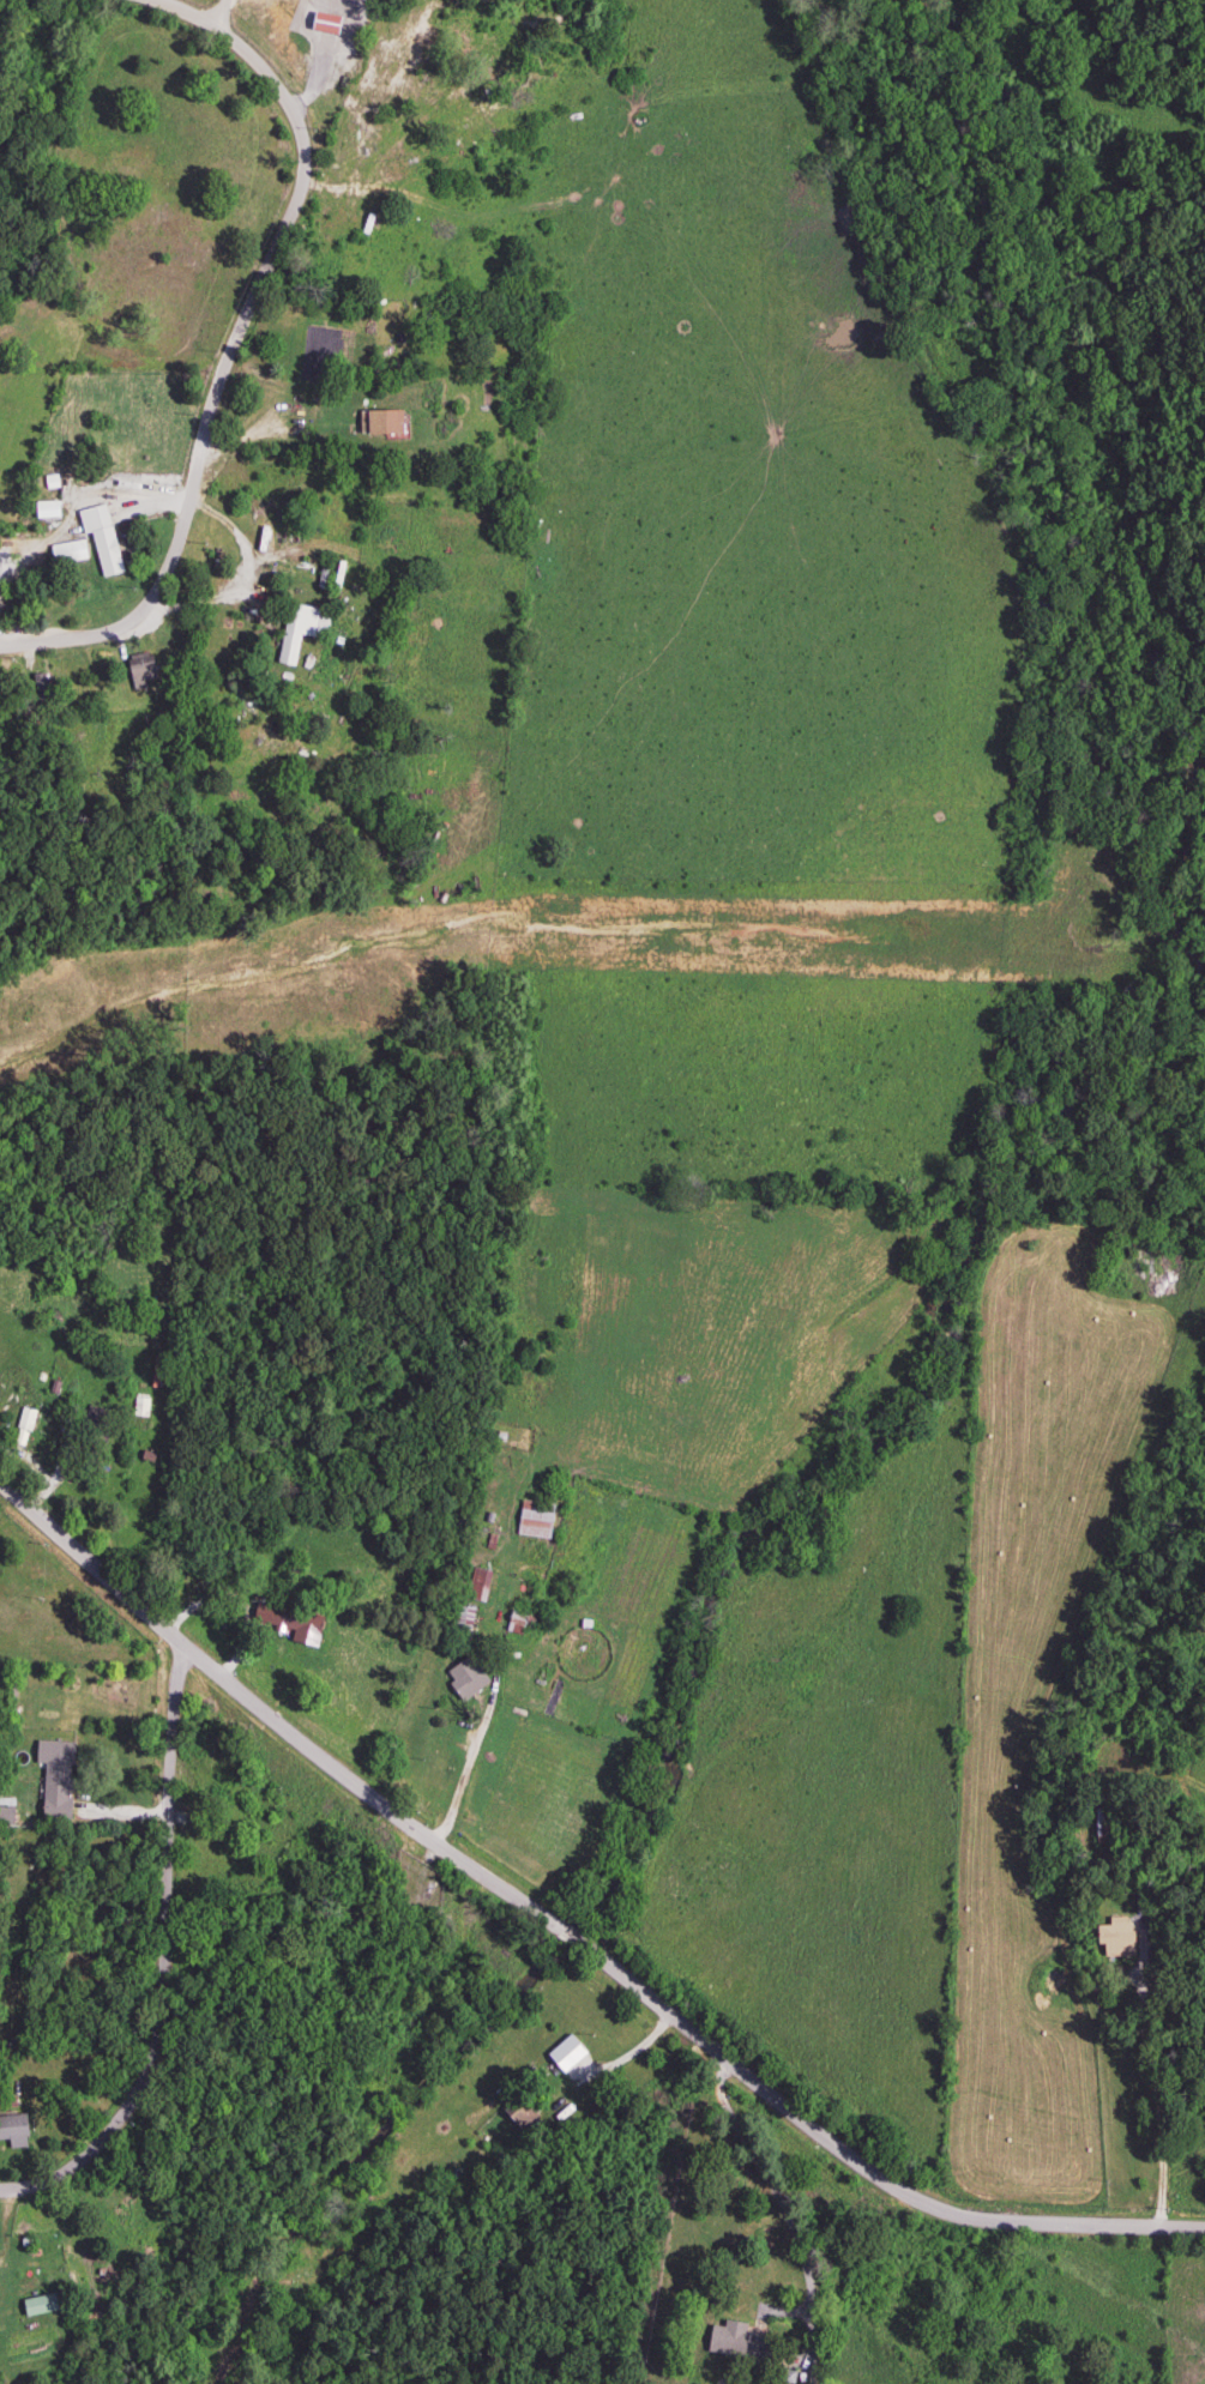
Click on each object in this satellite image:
building: (321, 23)
road: (224, 344)
building: (380, 423)
road: (245, 439)
building: (44, 511)
building: (98, 539)
building: (66, 553)
road: (242, 573)
building: (297, 630)
building: (138, 672)
building: (139, 1407)
building: (25, 1420)
building: (531, 1520)
building: (475, 1586)
building: (458, 1619)
building: (288, 1622)
building: (517, 1624)
building: (462, 1678)
road: (478, 1739)
building: (53, 1793)
building: (228, 1803)
building: (1102, 1823)
road: (168, 1923)
road: (564, 1936)
building: (1114, 1938)
road: (83, 1951)
road: (631, 2056)
road: (1163, 2098)
building: (522, 2117)
building: (12, 2132)
road: (38, 2186)
building: (35, 2306)
building: (733, 2342)

